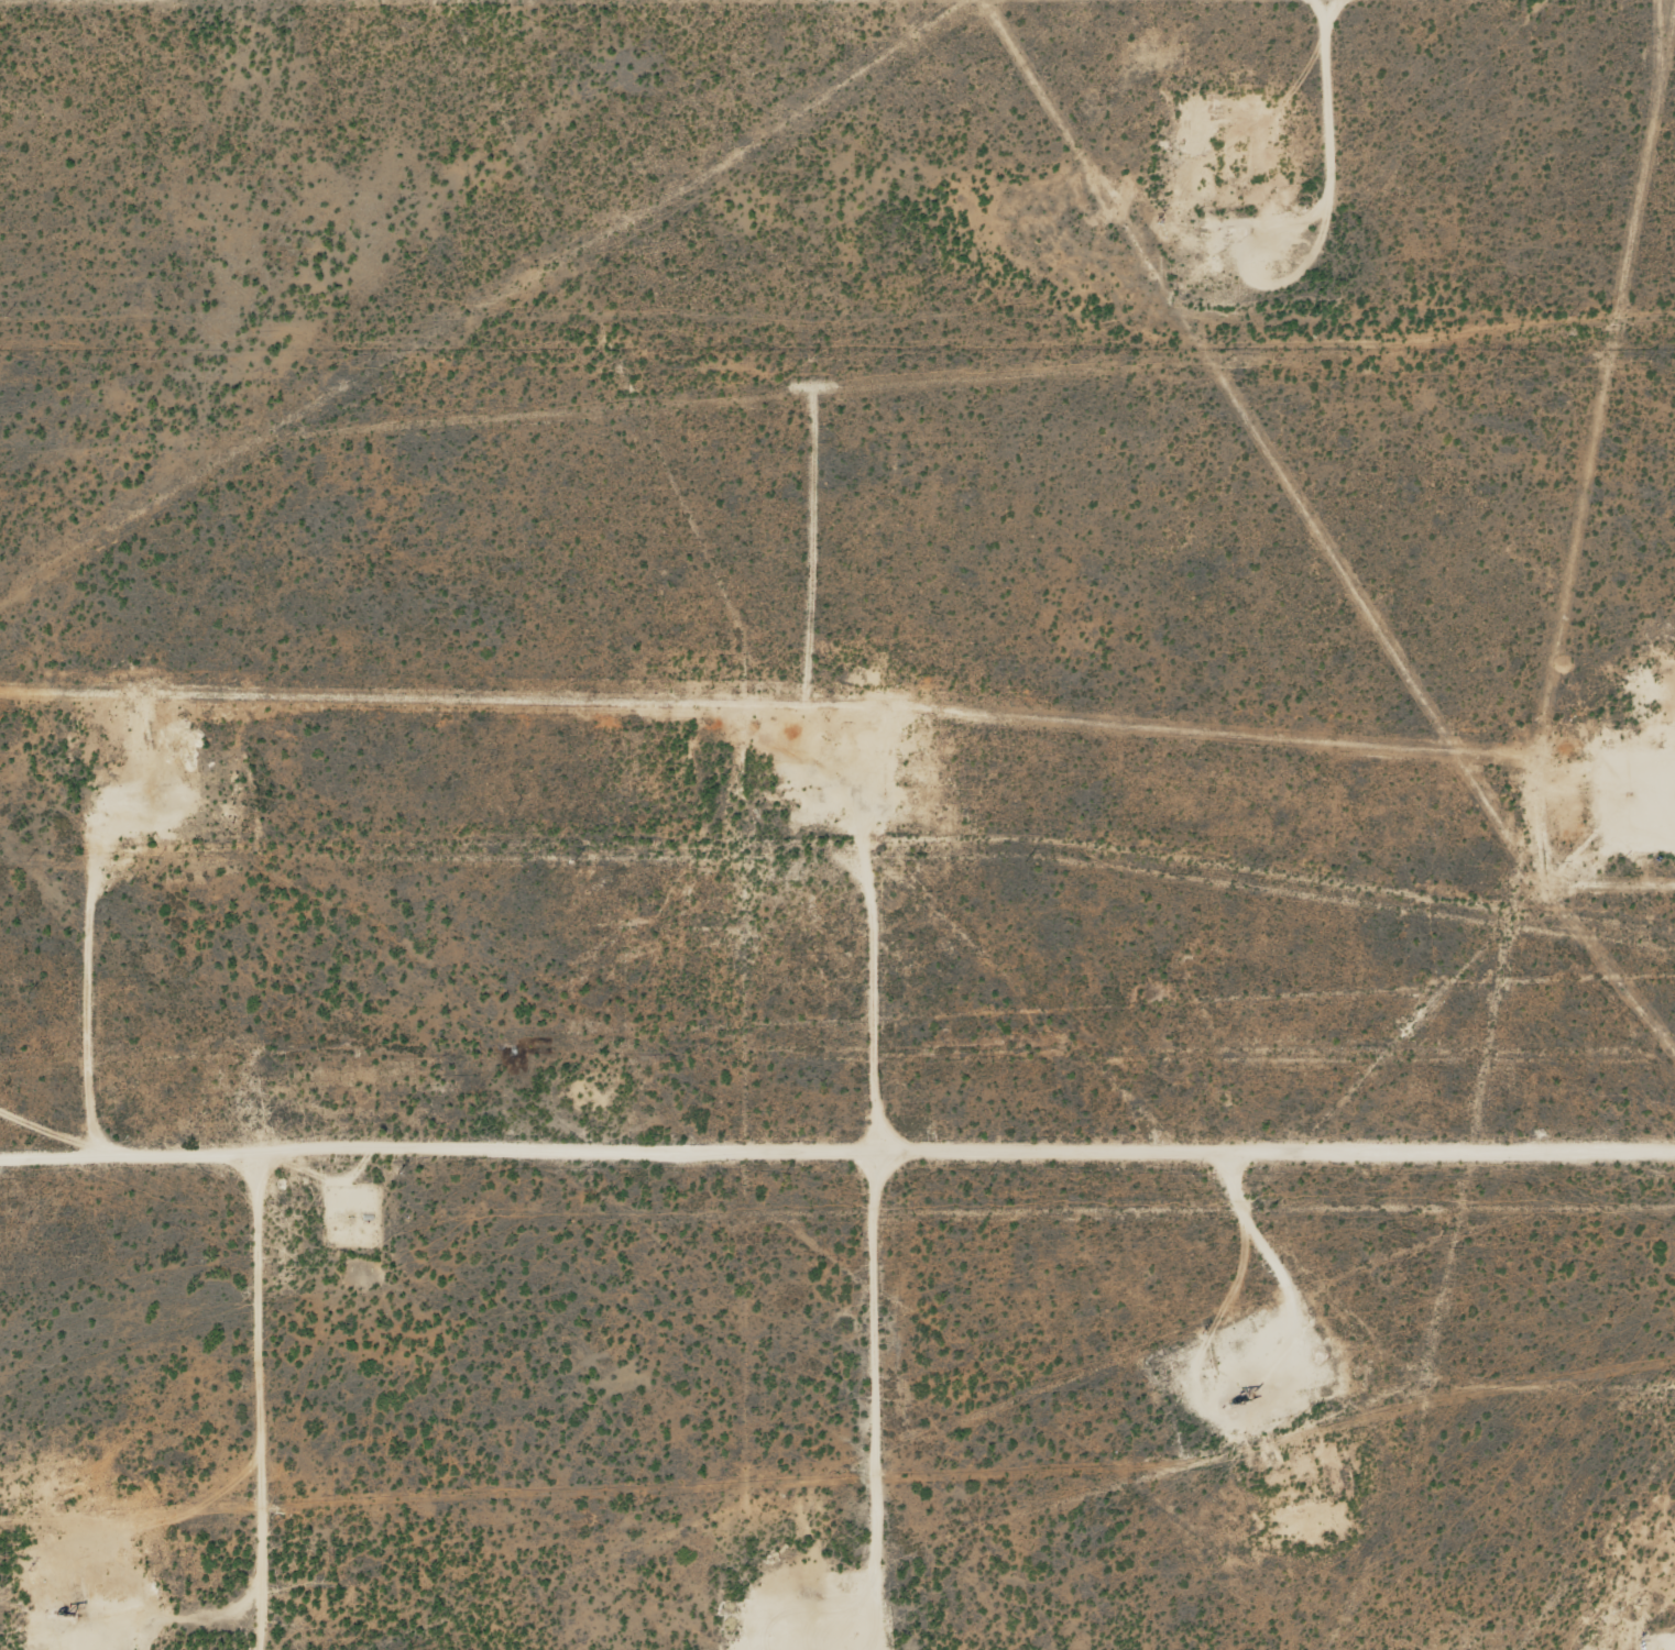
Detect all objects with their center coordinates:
road: (836, 1165)
road: (865, 1407)
road: (227, 1412)

